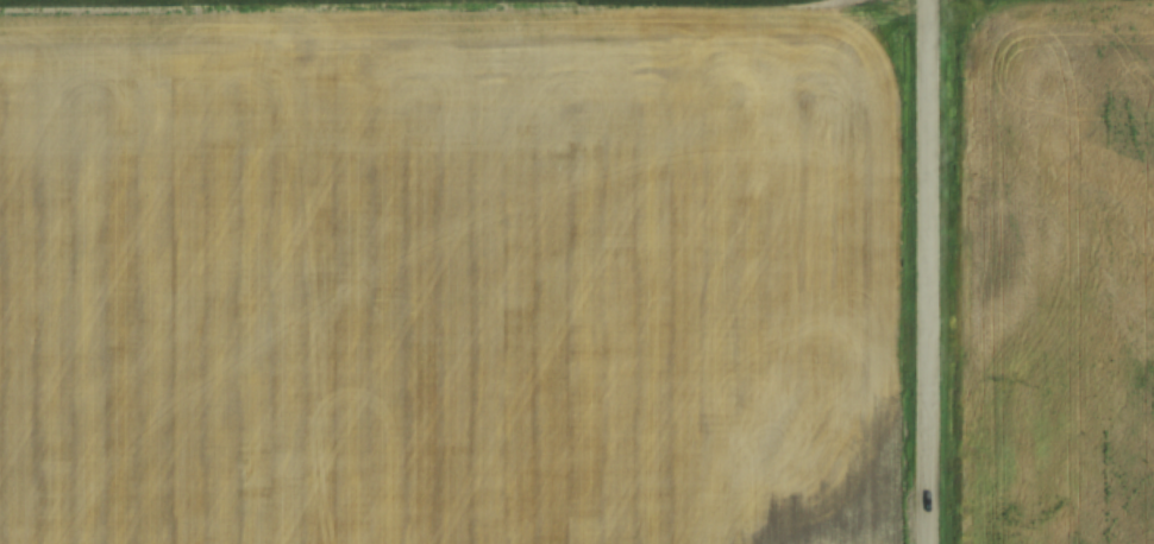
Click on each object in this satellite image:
road: (924, 272)

